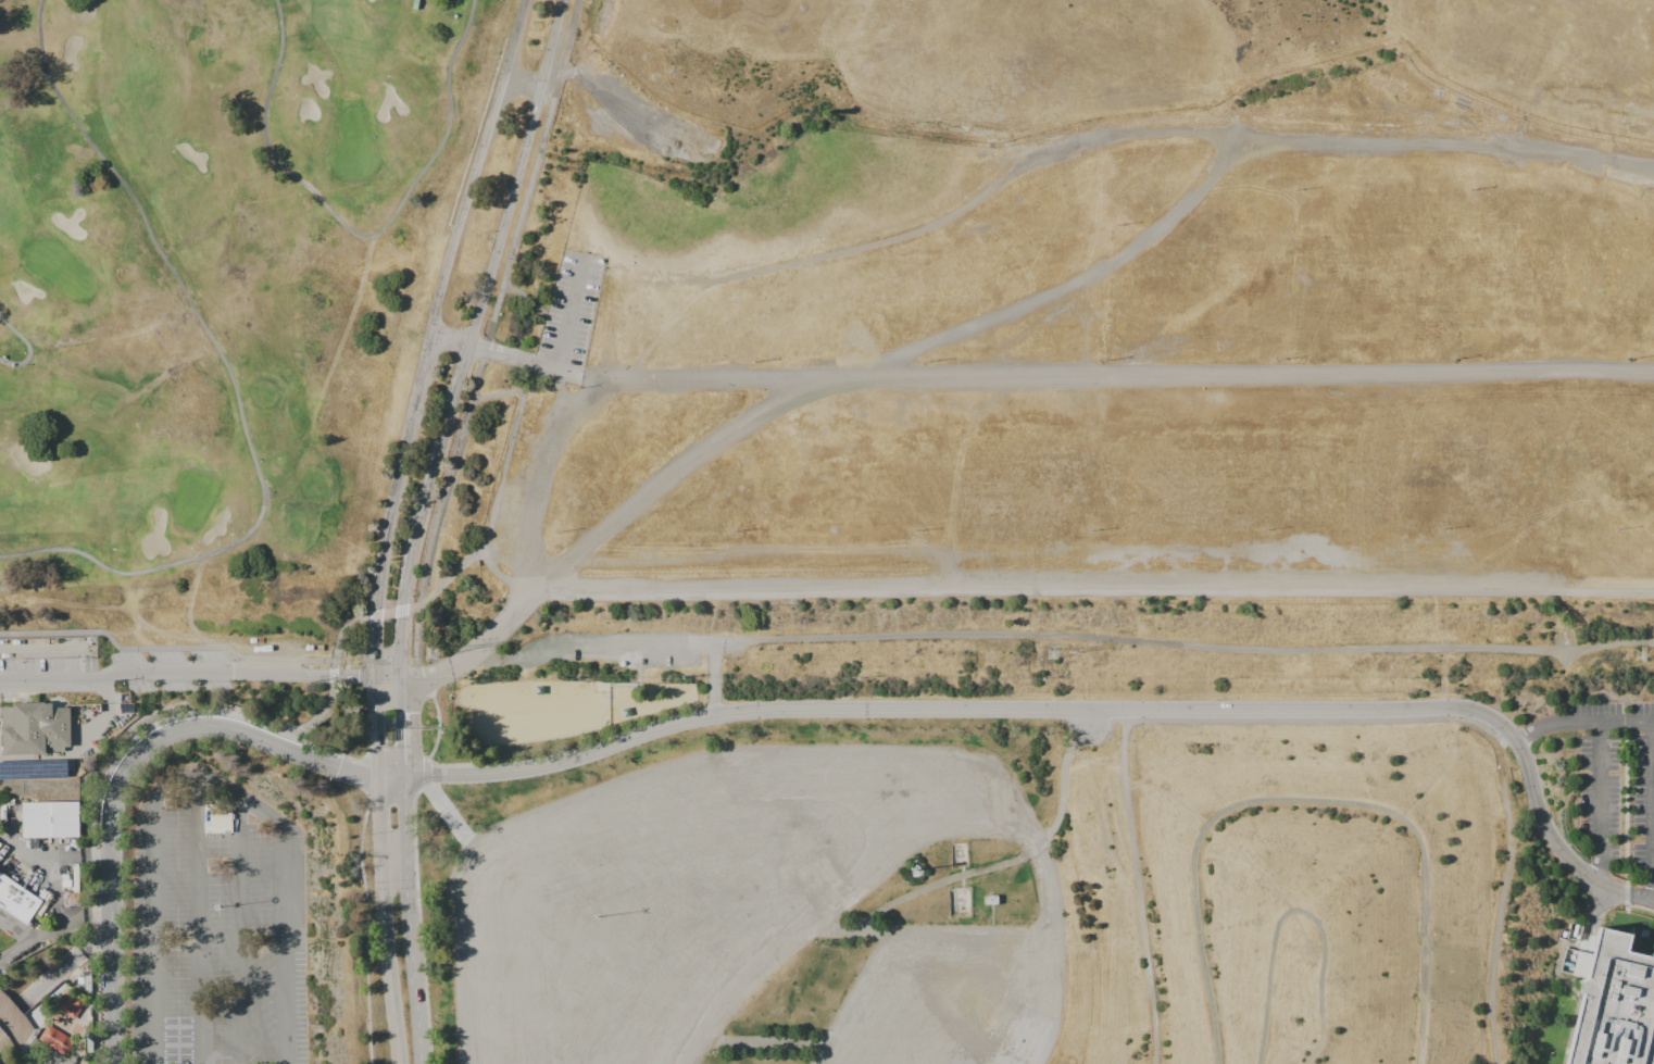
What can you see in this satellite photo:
road: (609, 91)
road: (1457, 125)
road: (1018, 170)
street lamp: (1295, 187)
street lamp: (1469, 189)
street lamp: (1642, 191)
park: (782, 202)
street lamp: (1114, 224)
road: (363, 231)
park: (212, 272)
road: (524, 296)
park: (824, 299)
road: (497, 301)
road: (569, 311)
parking lot: (568, 315)
road: (427, 333)
road: (951, 335)
road: (469, 336)
road: (30, 342)
road: (492, 348)
street lamp: (1631, 358)
street lamp: (1280, 359)
street lamp: (1454, 359)
street lamp: (928, 360)
street lamp: (1103, 360)
street lamp: (752, 361)
road: (568, 371)
road: (235, 375)
road: (1013, 378)
road: (599, 379)
parking lot: (1135, 383)
road: (523, 389)
parking lot: (1285, 391)
road: (493, 502)
street lamp: (1442, 527)
street lamp: (914, 529)
street lamp: (1089, 529)
street lamp: (1617, 529)
street lamp: (559, 530)
street lamp: (735, 530)
street lamp: (1266, 531)
road: (447, 576)
road: (1091, 594)
road: (355, 619)
road: (625, 637)
road: (415, 640)
road: (165, 647)
road: (483, 647)
road: (1183, 650)
power tower: (430, 651)
power tower: (1051, 652)
power tower: (1639, 653)
parking lot: (127, 669)
road: (164, 669)
road: (353, 674)
road: (394, 675)
road: (400, 693)
street lamp: (1597, 701)
street lamp: (1631, 701)
road: (322, 709)
road: (1061, 709)
street lamp: (1543, 715)
street lamp: (1458, 717)
road: (105, 718)
building: (388, 722)
road: (1583, 724)
road: (378, 726)
building: (34, 727)
street lamp: (1490, 729)
road: (402, 744)
street lamp: (1575, 747)
street lamp: (1509, 750)
street lamp: (1533, 754)
road: (426, 760)
road: (126, 766)
building: (33, 767)
road: (102, 778)
road: (214, 780)
street lamp: (1521, 787)
parking lot: (1617, 789)
road: (1307, 800)
road: (1601, 803)
road: (1627, 813)
road: (1653, 813)
building: (49, 818)
street lamp: (1531, 822)
building: (551, 840)
street lamp: (1549, 851)
road: (52, 854)
road: (1012, 861)
road: (1042, 874)
street lamp: (1574, 876)
road: (963, 877)
road: (1139, 885)
parking lot: (690, 890)
park: (1293, 894)
road: (1641, 898)
building: (16, 899)
building: (991, 900)
road: (1505, 900)
street lamp: (217, 905)
street lamp: (1587, 905)
road: (1641, 907)
building: (225, 910)
road: (992, 914)
street lamp: (596, 915)
road: (1285, 915)
road: (197, 918)
road: (65, 919)
road: (408, 921)
road: (384, 922)
road: (237, 929)
road: (365, 931)
road: (152, 935)
parking lot: (215, 935)
road: (850, 935)
road: (24, 939)
road: (281, 946)
building: (1580, 963)
road: (52, 975)
building: (85, 980)
road: (1579, 993)
parking lot: (952, 997)
building: (68, 1004)
building: (1615, 1005)
road: (13, 1021)
road: (29, 1031)
building: (226, 1032)
building: (54, 1038)
building: (87, 1041)
road: (767, 1043)
road: (1315, 1050)
road: (35, 1051)

